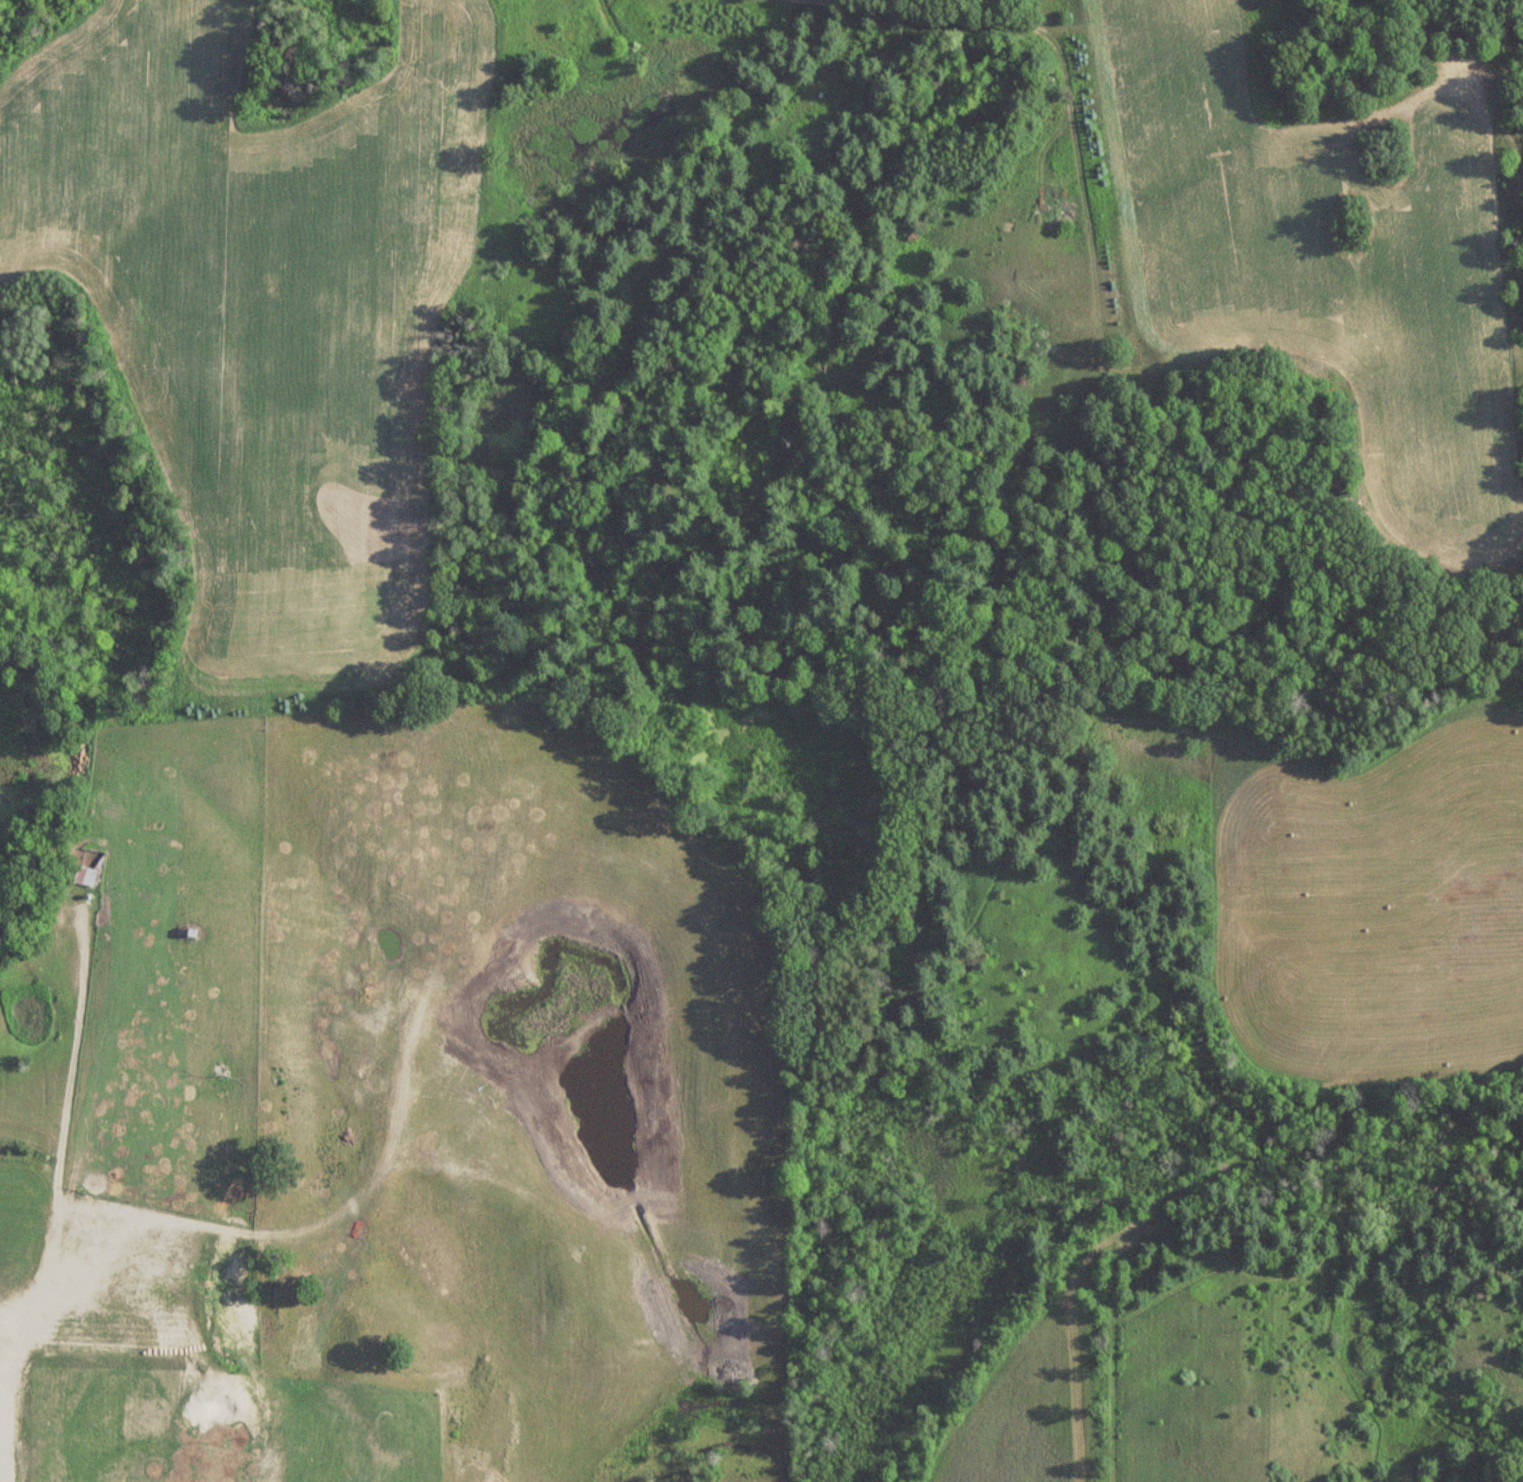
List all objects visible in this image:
building: (82, 876)

